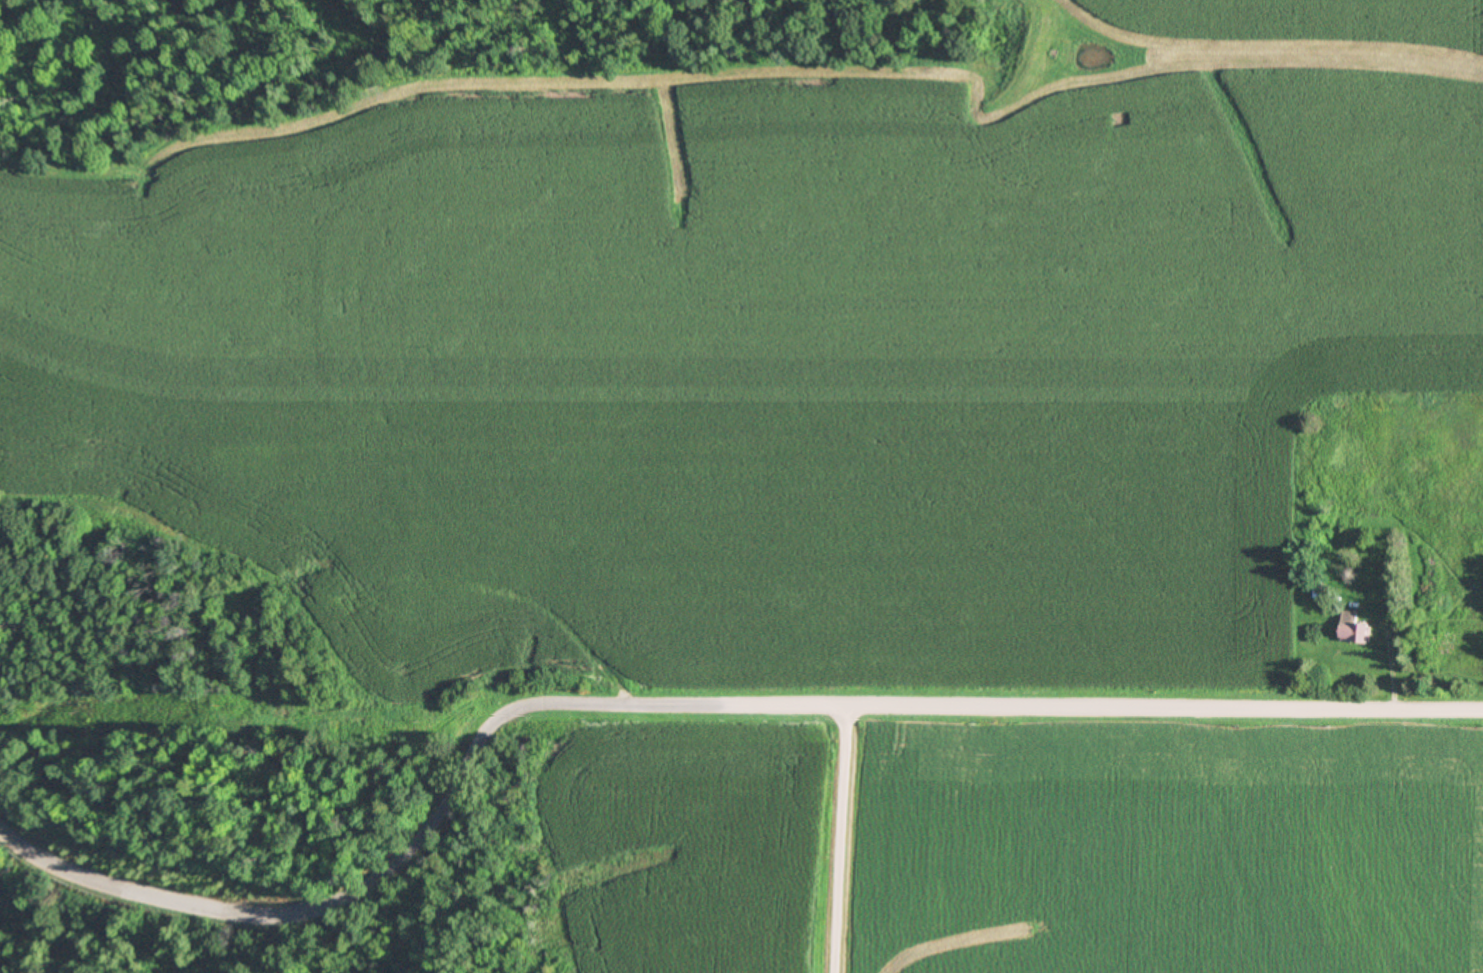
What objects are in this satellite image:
building: (1354, 628)
road: (790, 706)
road: (1165, 707)
road: (842, 839)
road: (388, 870)

